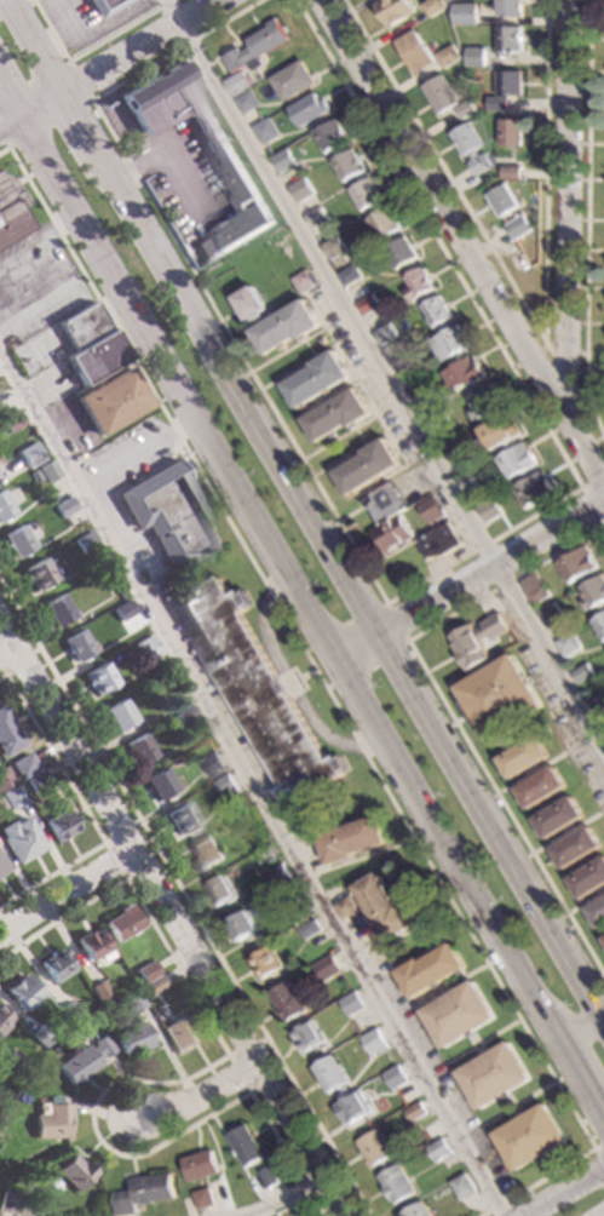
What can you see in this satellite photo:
building: (104, 6)
building: (433, 7)
building: (511, 8)
building: (393, 11)
building: (465, 15)
parking lot: (90, 27)
building: (508, 40)
road: (35, 45)
road: (87, 46)
road: (143, 47)
building: (255, 48)
building: (414, 52)
building: (447, 57)
building: (474, 58)
building: (292, 81)
building: (508, 84)
building: (237, 85)
road: (86, 93)
building: (439, 94)
building: (246, 103)
road: (8, 104)
building: (496, 104)
road: (40, 107)
building: (309, 109)
building: (465, 109)
road: (122, 116)
road: (81, 125)
road: (8, 126)
building: (264, 131)
building: (510, 133)
building: (330, 136)
building: (470, 147)
road: (168, 155)
building: (282, 161)
building: (496, 162)
building: (347, 165)
building: (228, 166)
road: (443, 170)
road: (545, 170)
building: (511, 173)
parking lot: (183, 179)
building: (299, 190)
building: (364, 194)
building: (501, 200)
building: (11, 212)
road: (568, 213)
building: (315, 218)
road: (587, 222)
building: (381, 224)
road: (61, 226)
building: (517, 228)
road: (462, 243)
building: (332, 247)
road: (24, 252)
building: (398, 252)
building: (341, 265)
building: (347, 276)
building: (303, 281)
parking lot: (39, 285)
building: (416, 285)
road: (58, 294)
building: (251, 303)
building: (366, 305)
building: (435, 311)
building: (284, 326)
road: (4, 327)
building: (382, 334)
building: (320, 339)
building: (87, 344)
building: (448, 344)
road: (546, 345)
road: (568, 352)
road: (529, 357)
building: (403, 368)
building: (464, 373)
road: (382, 375)
building: (316, 378)
building: (419, 395)
building: (109, 402)
building: (482, 402)
building: (336, 414)
building: (436, 420)
building: (10, 423)
building: (497, 432)
road: (137, 449)
building: (453, 452)
building: (28, 454)
building: (517, 460)
building: (367, 465)
building: (47, 470)
building: (33, 475)
parking lot: (131, 476)
building: (470, 482)
building: (534, 488)
road: (585, 494)
building: (382, 503)
building: (62, 507)
building: (4, 509)
building: (430, 510)
building: (488, 510)
building: (171, 517)
building: (392, 533)
building: (15, 541)
building: (439, 541)
building: (85, 543)
building: (576, 564)
building: (36, 575)
building: (104, 578)
road: (471, 579)
road: (295, 586)
road: (352, 586)
building: (533, 589)
building: (592, 592)
road: (390, 600)
building: (56, 612)
building: (123, 612)
building: (550, 616)
road: (396, 621)
building: (599, 624)
building: (477, 641)
building: (566, 644)
building: (77, 646)
building: (145, 648)
road: (8, 653)
road: (17, 665)
road: (311, 671)
building: (581, 673)
road: (299, 676)
building: (99, 678)
building: (291, 682)
road: (291, 683)
building: (254, 686)
building: (497, 696)
road: (333, 702)
parking lot: (225, 706)
building: (598, 707)
road: (447, 709)
building: (117, 715)
building: (183, 716)
building: (7, 735)
building: (138, 750)
building: (524, 756)
building: (21, 765)
building: (213, 767)
building: (4, 779)
building: (34, 780)
road: (255, 781)
building: (163, 784)
building: (225, 785)
building: (542, 786)
building: (11, 796)
road: (84, 809)
building: (180, 816)
building: (559, 818)
building: (59, 825)
building: (19, 839)
building: (350, 839)
road: (104, 844)
building: (576, 847)
building: (206, 853)
road: (362, 857)
building: (2, 865)
building: (277, 874)
building: (588, 878)
building: (222, 890)
road: (67, 894)
building: (291, 894)
road: (184, 900)
building: (382, 907)
building: (346, 908)
building: (598, 912)
road: (173, 917)
building: (122, 922)
building: (243, 925)
building: (311, 929)
building: (603, 939)
building: (92, 947)
building: (265, 963)
road: (485, 964)
building: (54, 965)
building: (328, 967)
building: (145, 970)
building: (428, 970)
building: (153, 985)
building: (98, 991)
building: (23, 992)
road: (436, 992)
road: (445, 992)
building: (287, 1002)
building: (131, 1003)
building: (352, 1003)
building: (68, 1013)
building: (458, 1014)
building: (2, 1020)
road: (518, 1020)
road: (583, 1031)
road: (496, 1032)
building: (40, 1036)
building: (178, 1036)
building: (309, 1036)
road: (471, 1037)
building: (132, 1038)
building: (375, 1040)
road: (481, 1042)
road: (481, 1052)
parking lot: (428, 1054)
road: (226, 1055)
building: (84, 1060)
road: (449, 1060)
building: (13, 1061)
building: (330, 1073)
building: (396, 1076)
building: (494, 1076)
road: (553, 1082)
road: (156, 1083)
road: (586, 1086)
road: (531, 1094)
road: (203, 1097)
road: (507, 1099)
road: (516, 1103)
building: (353, 1107)
building: (416, 1112)
road: (517, 1114)
building: (53, 1122)
road: (485, 1122)
building: (530, 1137)
building: (245, 1145)
building: (374, 1148)
building: (438, 1149)
road: (598, 1151)
building: (199, 1165)
road: (547, 1165)
building: (75, 1172)
building: (268, 1177)
building: (396, 1185)
building: (462, 1187)
building: (142, 1192)
road: (565, 1192)
road: (288, 1197)
building: (203, 1199)
building: (7, 1204)
building: (415, 1210)

